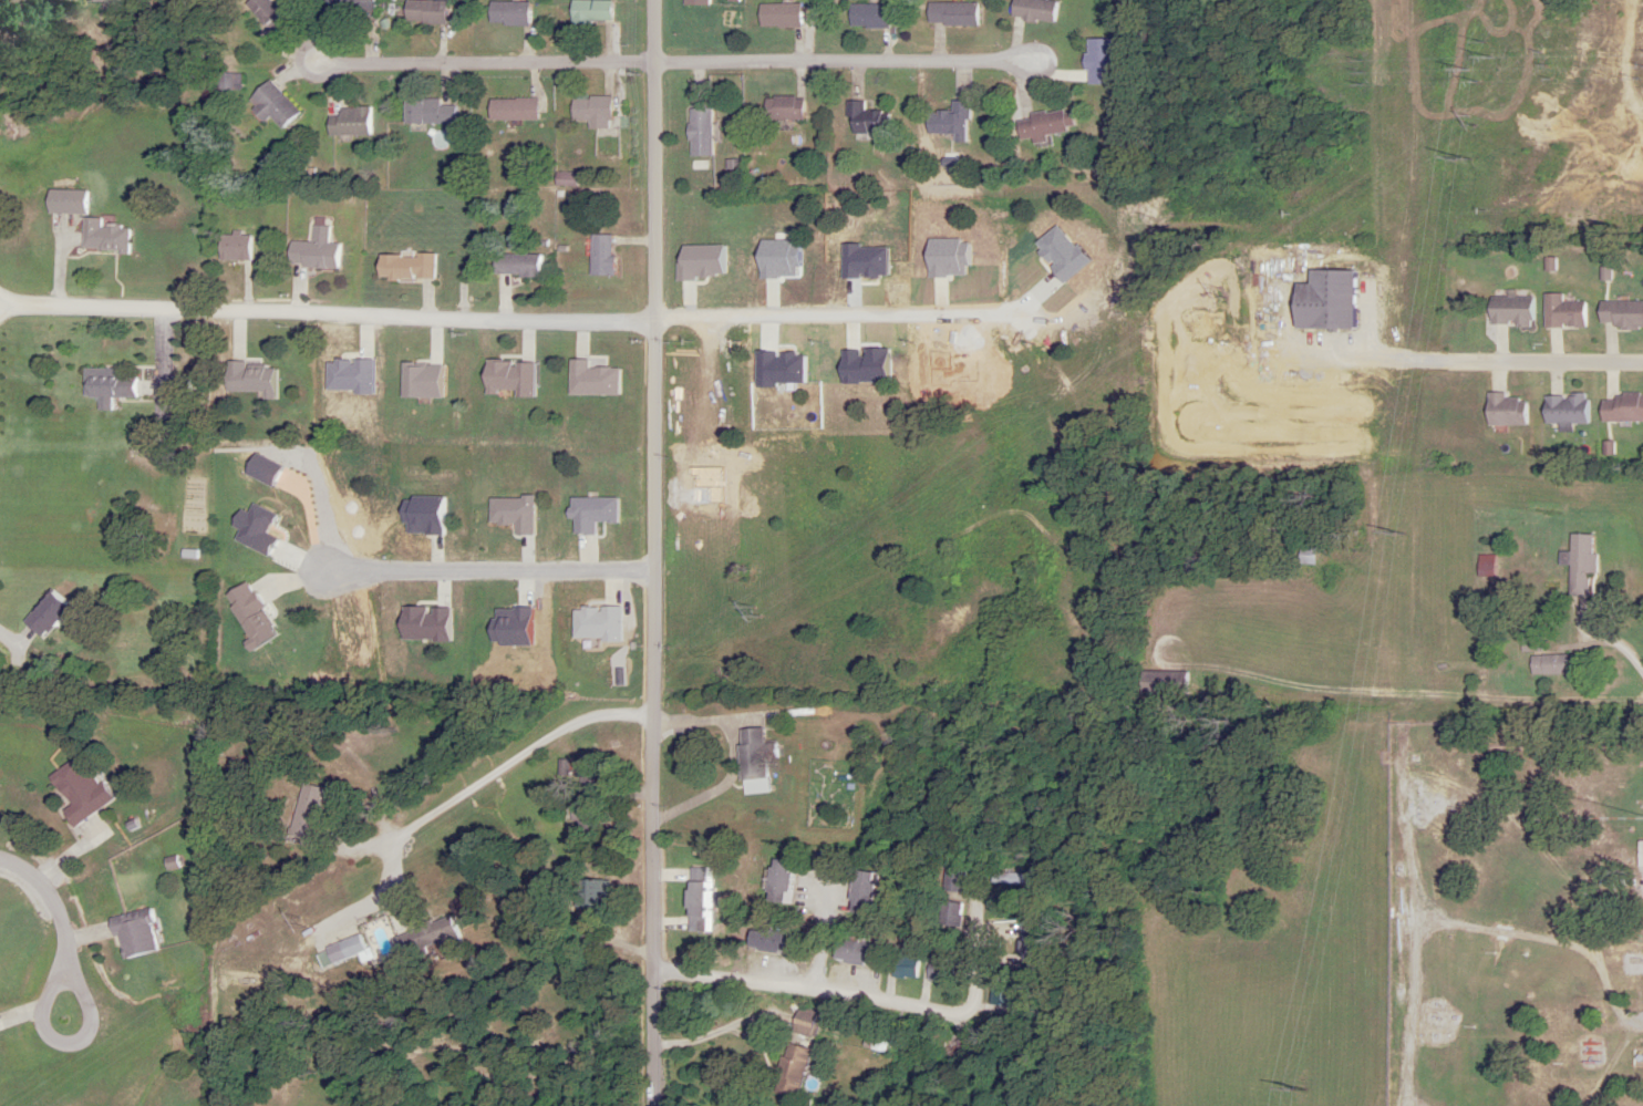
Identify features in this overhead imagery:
building: (107, 0)
building: (704, 1)
building: (355, 6)
building: (1032, 10)
building: (433, 11)
building: (600, 11)
building: (276, 12)
building: (517, 13)
building: (950, 14)
building: (781, 15)
building: (865, 15)
building: (1095, 61)
road: (486, 63)
road: (844, 63)
building: (277, 105)
building: (788, 107)
building: (516, 108)
building: (433, 112)
building: (599, 112)
building: (865, 120)
building: (354, 122)
building: (948, 122)
building: (1041, 125)
building: (704, 132)
building: (73, 201)
building: (110, 236)
building: (241, 247)
building: (321, 251)
building: (607, 256)
building: (521, 265)
building: (412, 267)
road: (874, 294)
building: (1321, 301)
building: (1509, 311)
building: (1561, 312)
building: (1619, 314)
road: (328, 316)
road: (1512, 358)
building: (113, 386)
building: (186, 386)
building: (1620, 407)
building: (1502, 409)
building: (1563, 409)
road: (848, 534)
road: (657, 552)
building: (1304, 556)
building: (1577, 564)
building: (54, 611)
building: (1552, 664)
road: (1621, 678)
building: (1174, 682)
building: (765, 755)
road: (735, 756)
road: (518, 762)
building: (83, 792)
building: (595, 802)
building: (317, 812)
building: (1021, 879)
building: (957, 880)
building: (787, 881)
building: (871, 893)
building: (597, 895)
building: (704, 900)
building: (952, 913)
road: (45, 927)
building: (136, 933)
building: (438, 941)
building: (782, 942)
road: (979, 942)
building: (362, 947)
building: (1034, 947)
building: (862, 953)
building: (910, 968)
building: (943, 970)
building: (1006, 993)
road: (826, 995)
building: (812, 1022)
building: (792, 1071)

